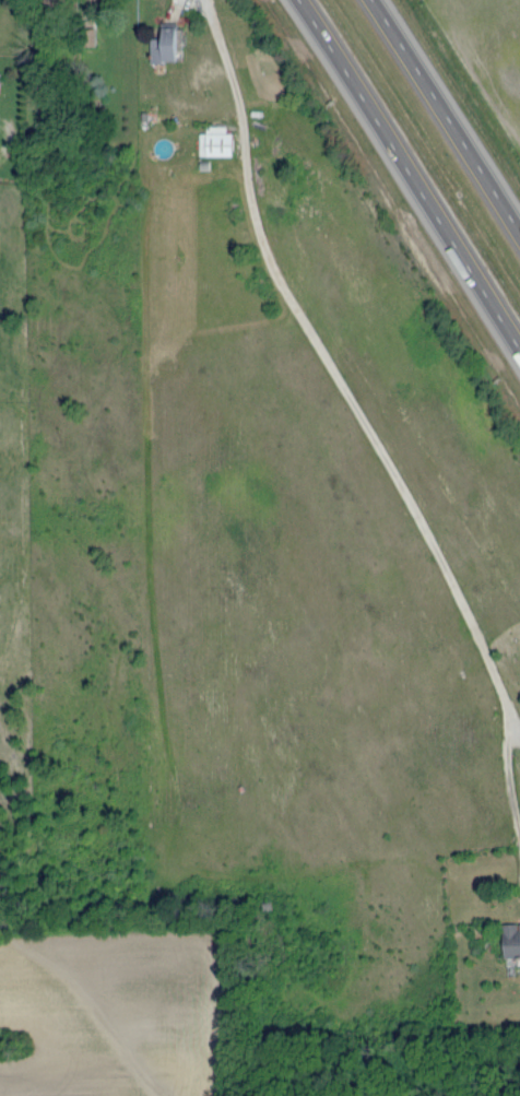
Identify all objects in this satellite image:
building: (61, 3)
building: (166, 43)
building: (0, 75)
road: (447, 116)
building: (217, 142)
road: (409, 175)
road: (367, 426)
road: (508, 706)
building: (511, 940)

